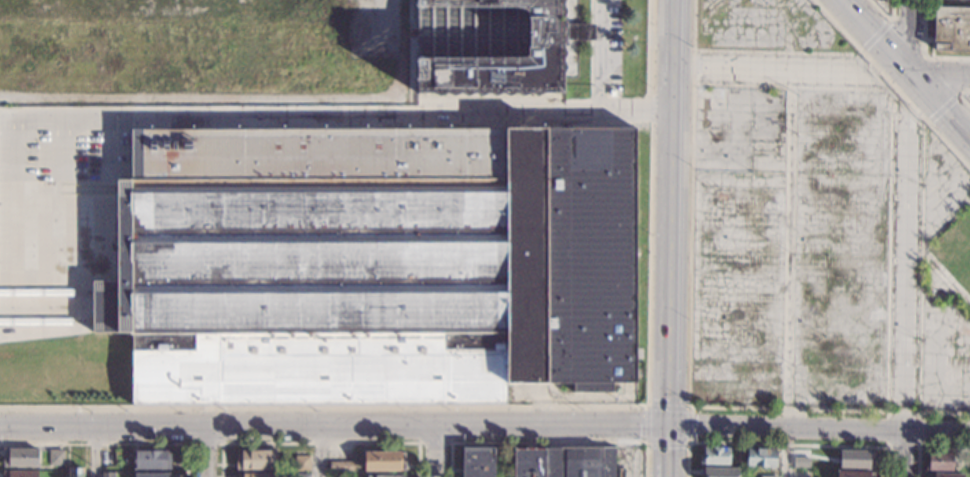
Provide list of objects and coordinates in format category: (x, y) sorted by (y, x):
building: (951, 29)
road: (876, 33)
road: (870, 36)
road: (904, 37)
building: (489, 47)
road: (778, 50)
road: (863, 52)
road: (925, 55)
road: (785, 70)
road: (937, 74)
road: (794, 85)
road: (599, 90)
building: (612, 94)
road: (961, 96)
road: (943, 106)
road: (937, 109)
road: (127, 120)
road: (941, 135)
road: (666, 170)
road: (690, 202)
road: (108, 218)
parking lot: (789, 247)
road: (905, 258)
building: (374, 264)
road: (937, 270)
road: (788, 273)
road: (920, 290)
railway: (45, 292)
railway: (45, 322)
road: (887, 347)
road: (667, 383)
road: (526, 405)
road: (647, 405)
road: (334, 426)
traffic signals: (668, 426)
road: (785, 427)
road: (936, 429)
road: (548, 441)
road: (320, 442)
road: (434, 442)
road: (110, 443)
road: (204, 443)
road: (784, 443)
road: (918, 447)
road: (930, 448)
road: (94, 451)
road: (206, 451)
road: (318, 451)
road: (435, 451)
road: (667, 451)
road: (901, 452)
building: (715, 456)
building: (20, 457)
building: (760, 457)
building: (56, 458)
building: (856, 459)
building: (151, 460)
building: (255, 460)
building: (804, 460)
building: (383, 461)
building: (939, 461)
building: (478, 462)
building: (562, 462)
building: (301, 463)
building: (340, 466)
building: (75, 472)
building: (719, 472)
building: (19, 474)
building: (107, 474)
building: (855, 474)
building: (152, 475)
building: (258, 475)
building: (302, 475)
building: (944, 475)
building: (385, 476)
building: (769, 476)

